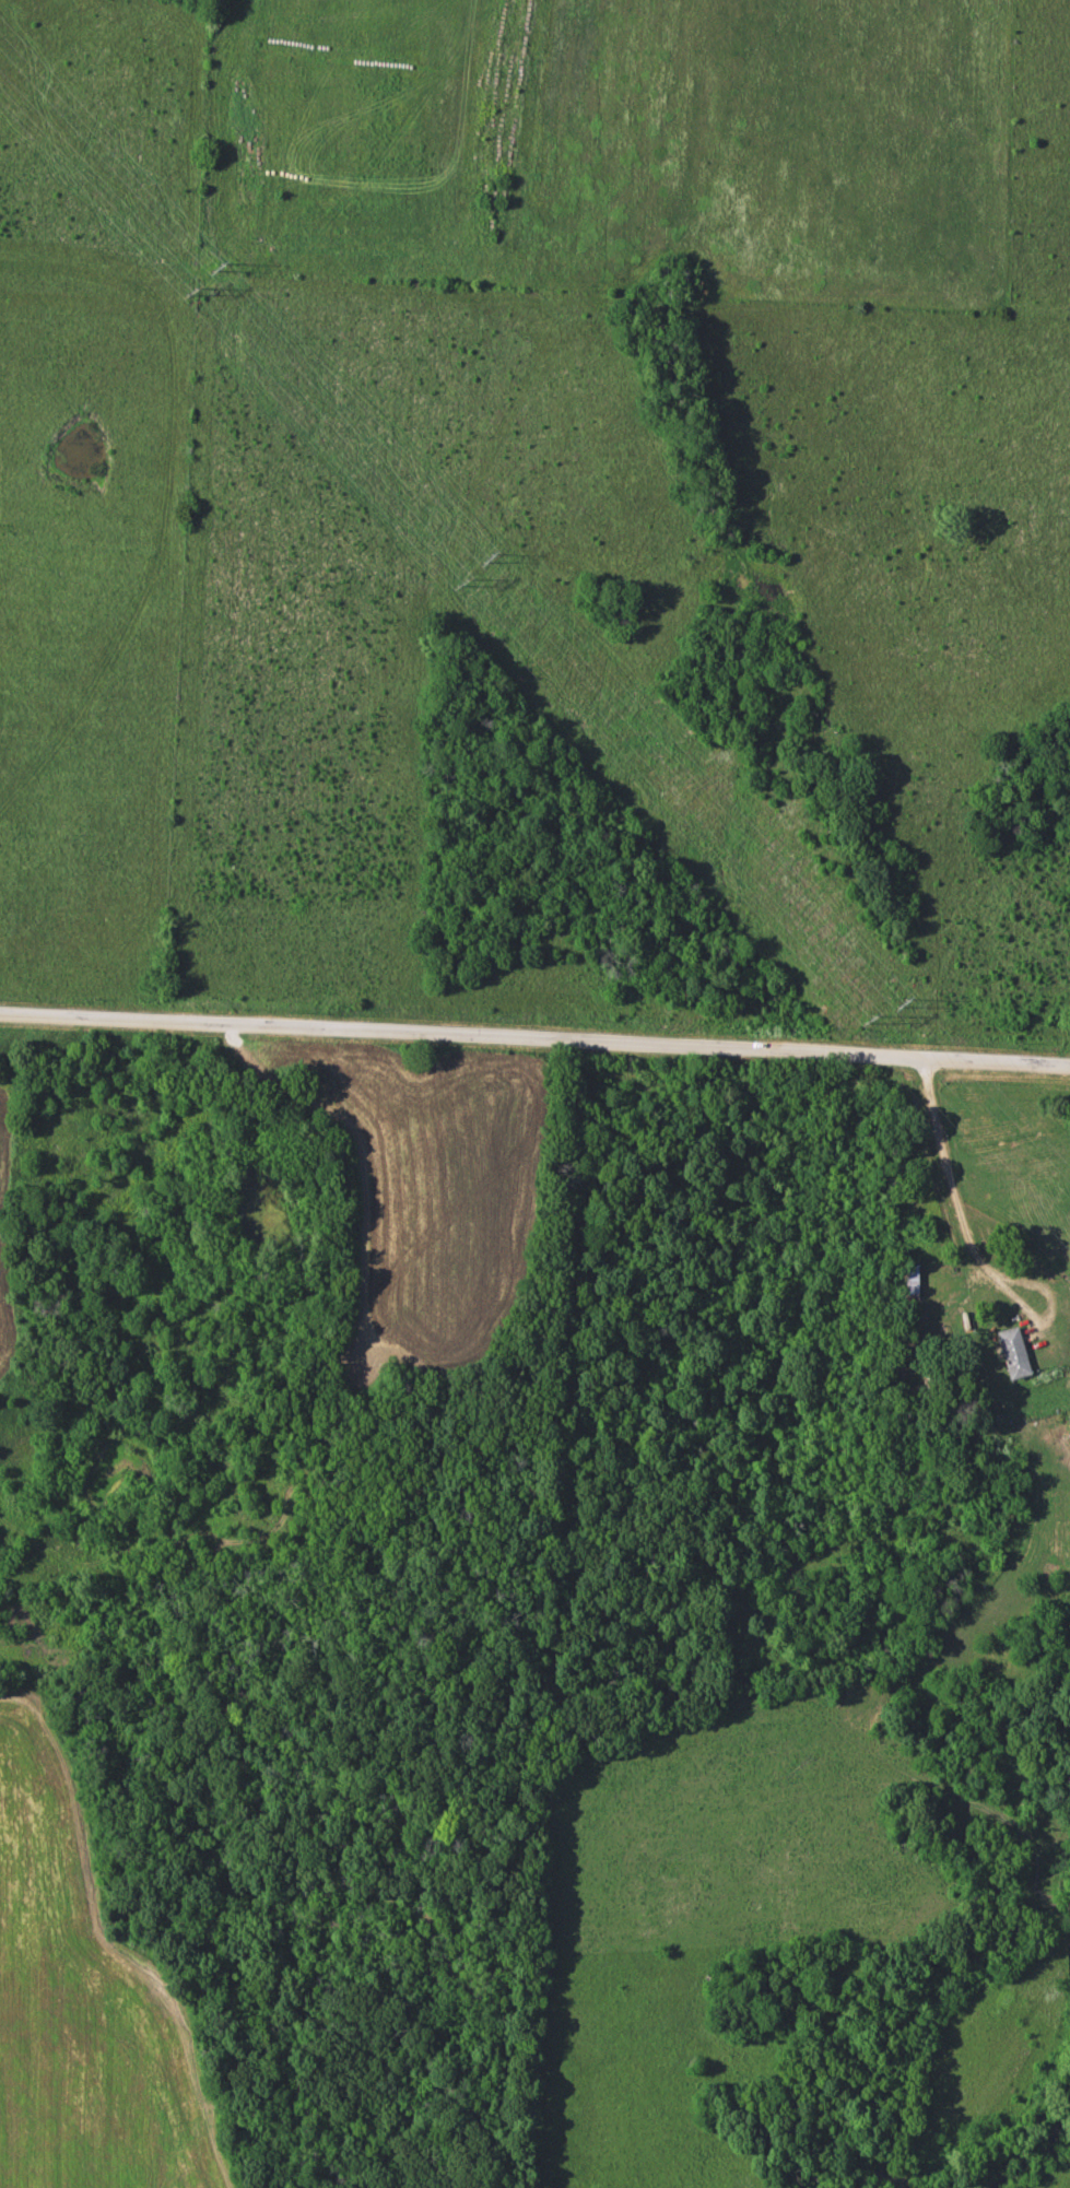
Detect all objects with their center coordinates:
power tower: (215, 268)
power tower: (190, 293)
power tower: (486, 558)
power tower: (463, 583)
power tower: (899, 1001)
power tower: (868, 1017)
road: (534, 1039)
road: (972, 1251)
building: (905, 1281)
building: (1010, 1352)
building: (1068, 1424)

